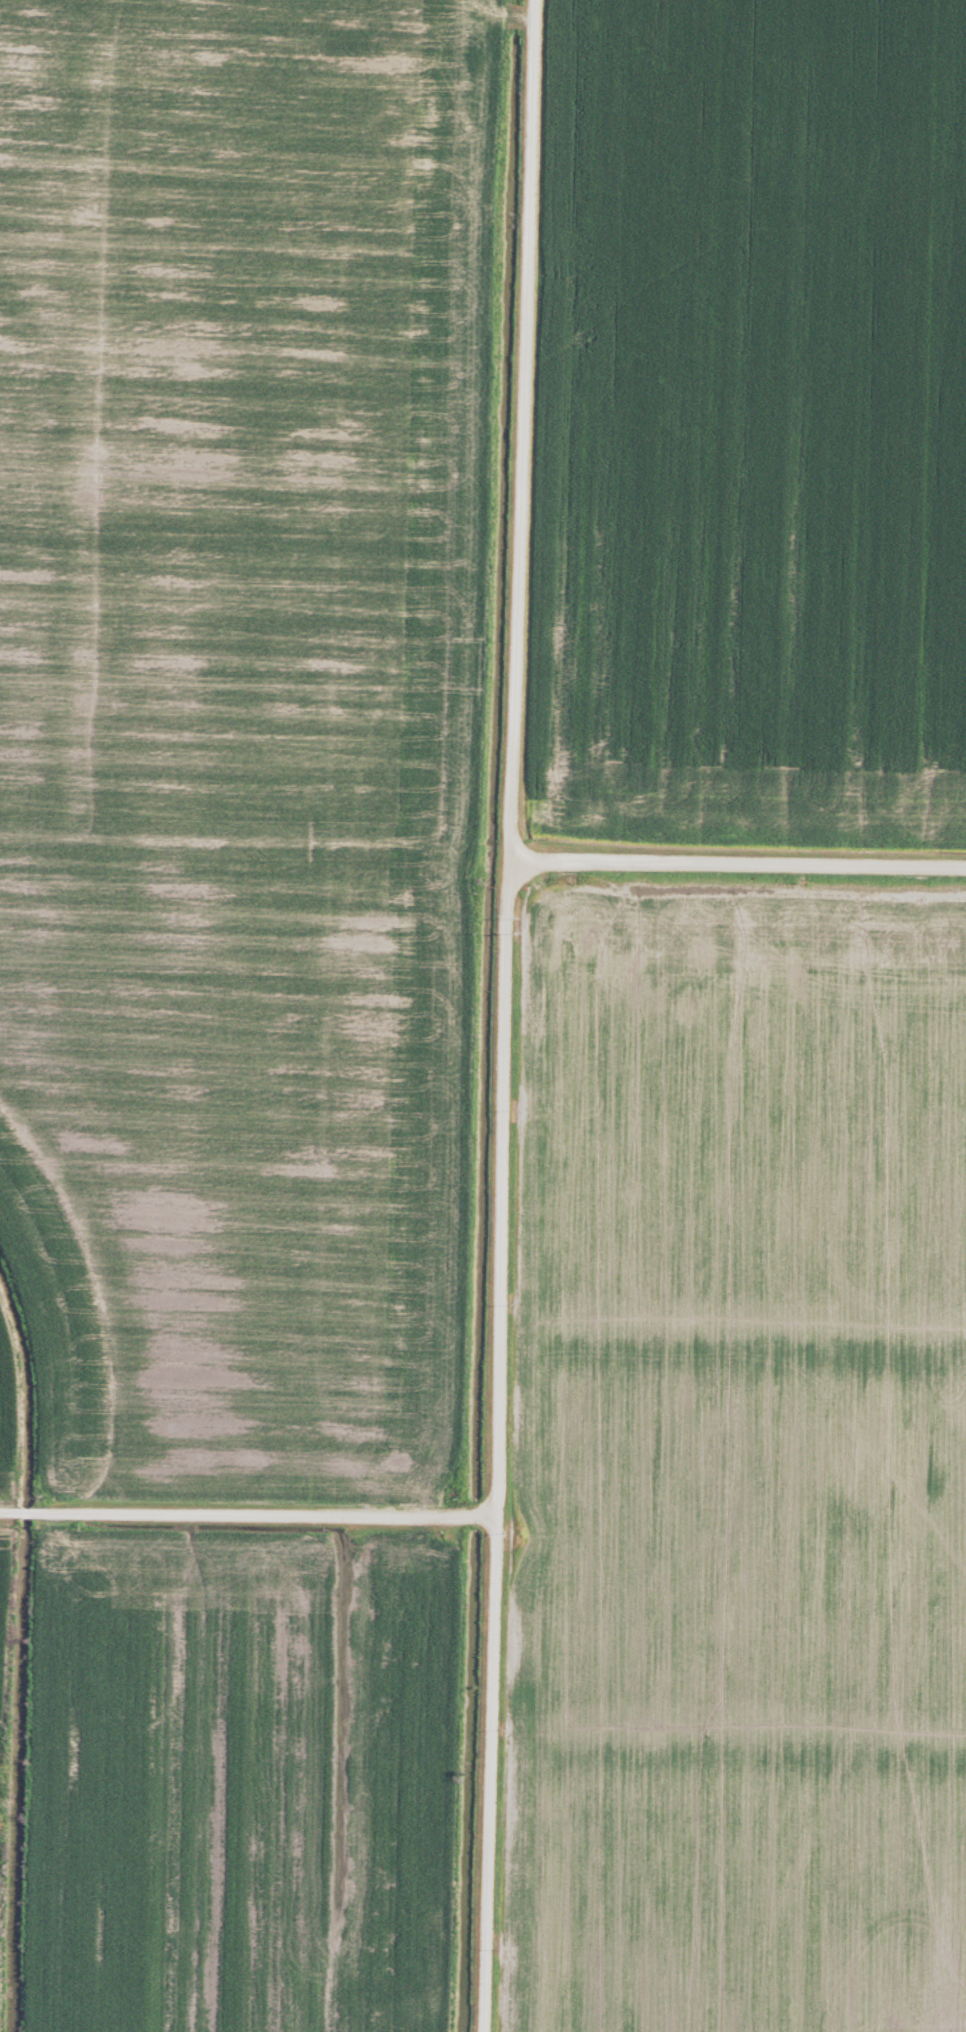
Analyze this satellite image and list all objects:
road: (736, 862)
road: (505, 1015)
road: (248, 1512)

